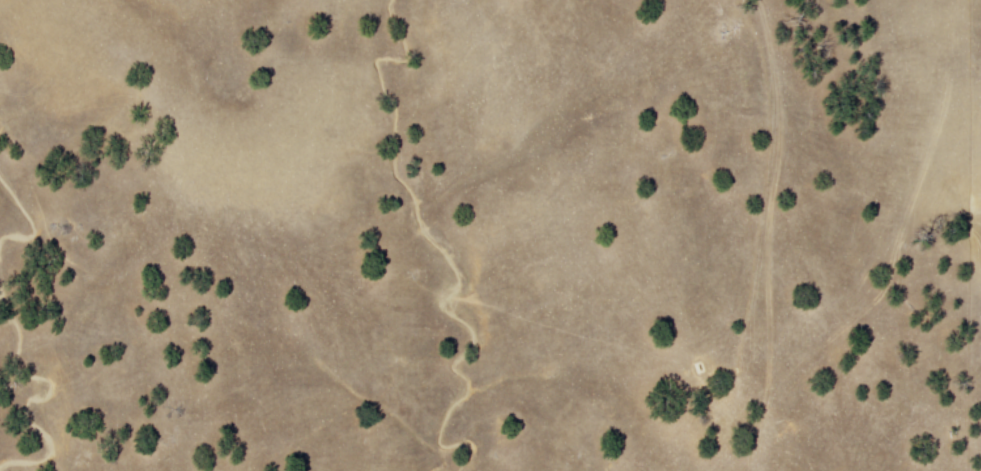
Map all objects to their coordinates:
road: (767, 235)

